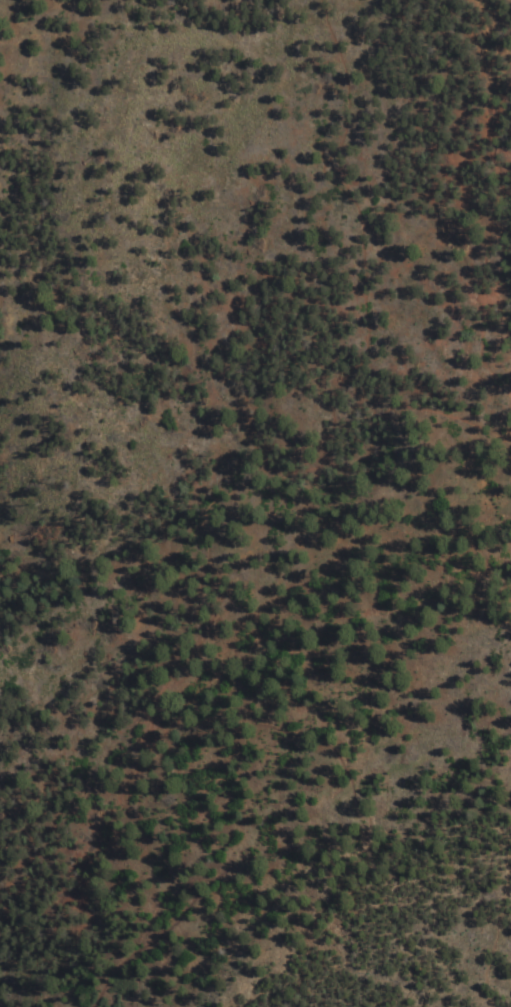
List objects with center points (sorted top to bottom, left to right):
road: (406, 406)
road: (206, 631)
road: (510, 853)
road: (171, 964)

